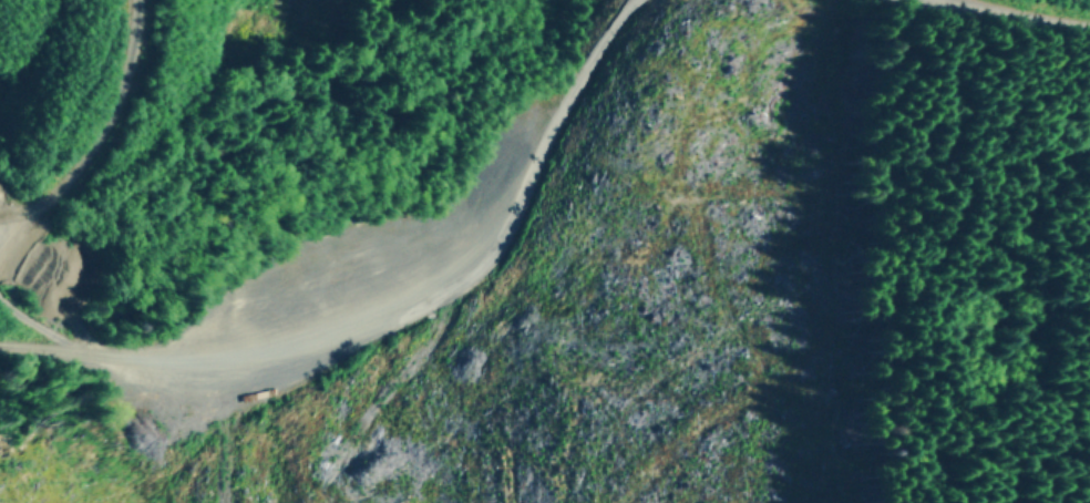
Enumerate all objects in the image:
road: (1014, 12)
road: (99, 132)
quarry: (394, 215)
road: (397, 319)

